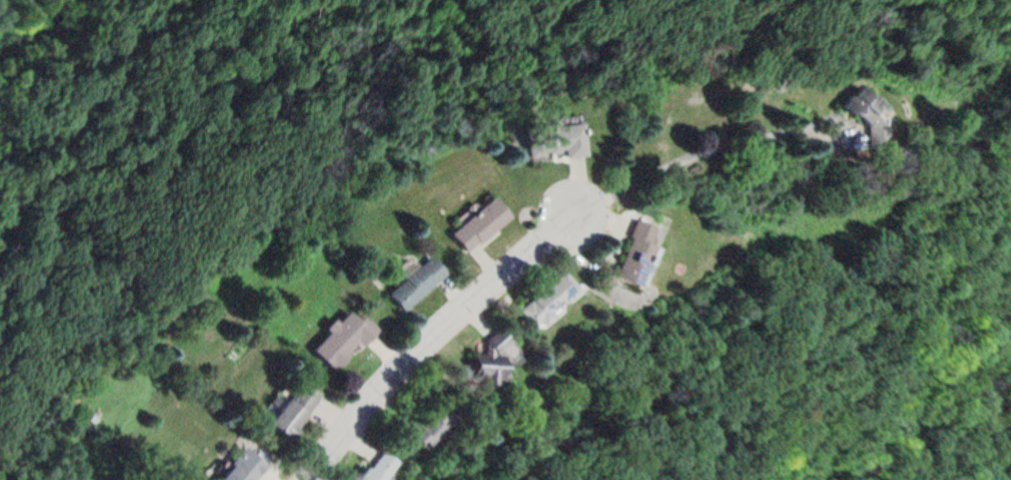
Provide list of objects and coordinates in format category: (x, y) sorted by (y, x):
road: (983, 10)
building: (869, 106)
road: (79, 107)
building: (556, 137)
road: (138, 143)
road: (237, 144)
road: (677, 165)
building: (480, 223)
building: (634, 253)
park: (903, 261)
building: (414, 281)
building: (549, 297)
road: (817, 316)
building: (343, 336)
road: (434, 338)
building: (490, 354)
building: (293, 406)
building: (420, 424)
road: (988, 446)
building: (247, 465)
building: (382, 466)

